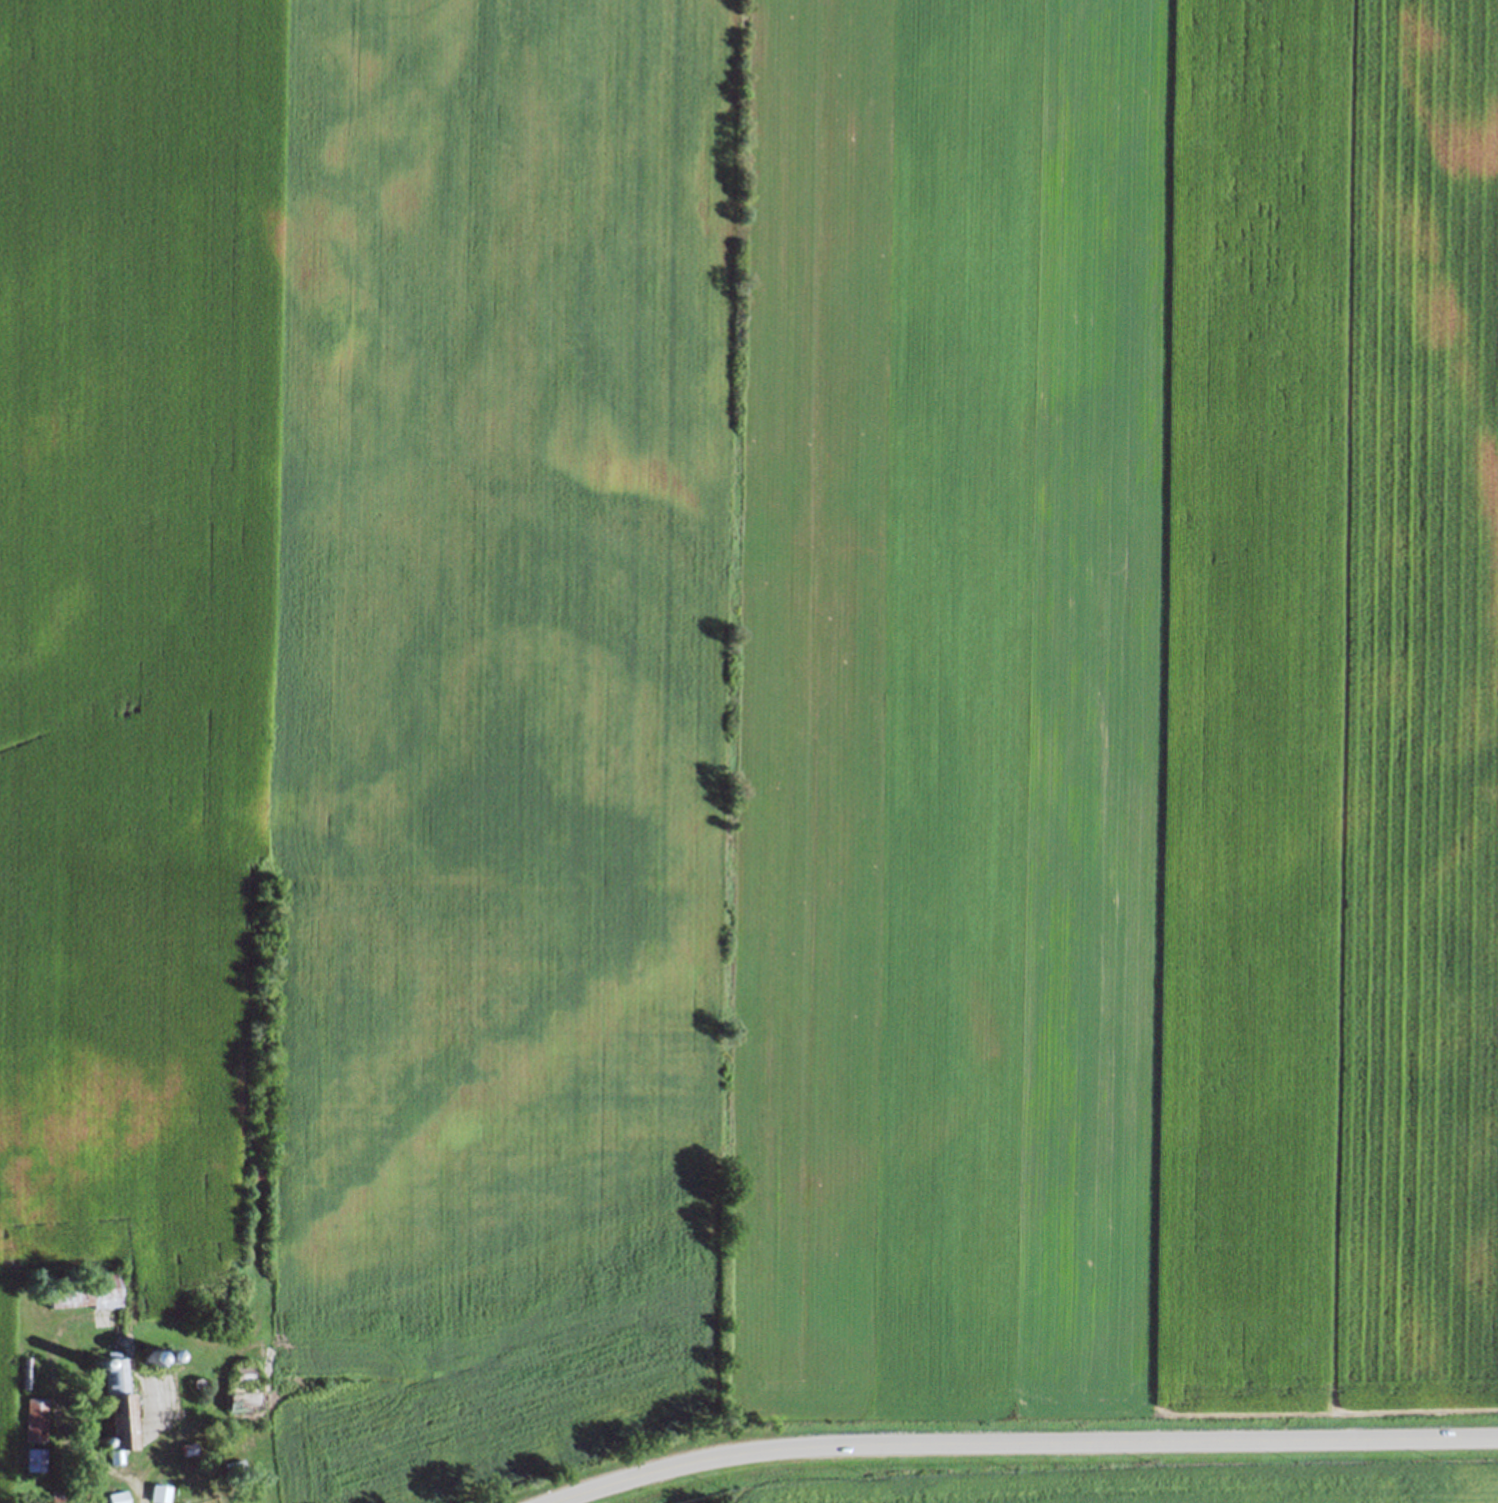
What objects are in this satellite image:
crop: (756, 707)
building: (83, 1290)
building: (21, 1369)
building: (242, 1371)
building: (242, 1399)
building: (112, 1403)
building: (33, 1416)
road: (194, 1422)
road: (1023, 1443)
building: (186, 1447)
building: (32, 1457)
building: (232, 1464)
road: (128, 1483)
building: (157, 1491)
crop: (682, 1491)
building: (116, 1497)

